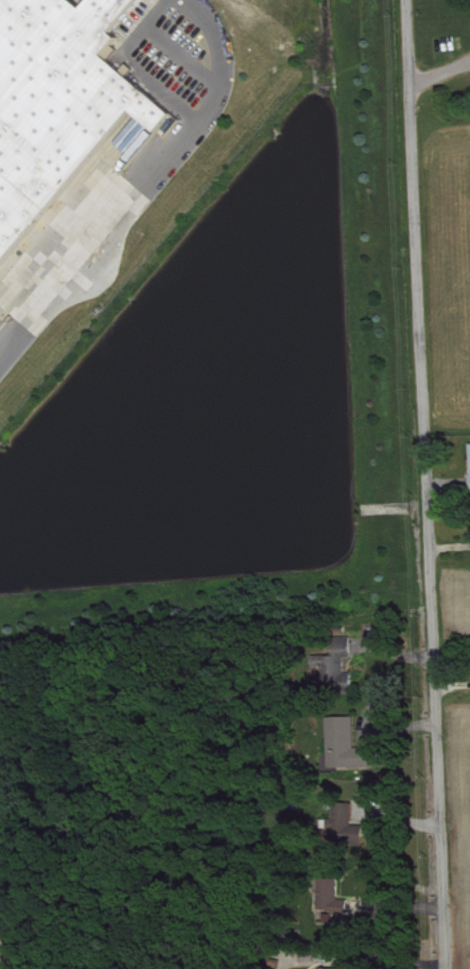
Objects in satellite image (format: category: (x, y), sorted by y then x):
road: (440, 79)
building: (57, 102)
road: (142, 188)
road: (426, 484)
building: (344, 669)
building: (351, 749)
building: (351, 829)

